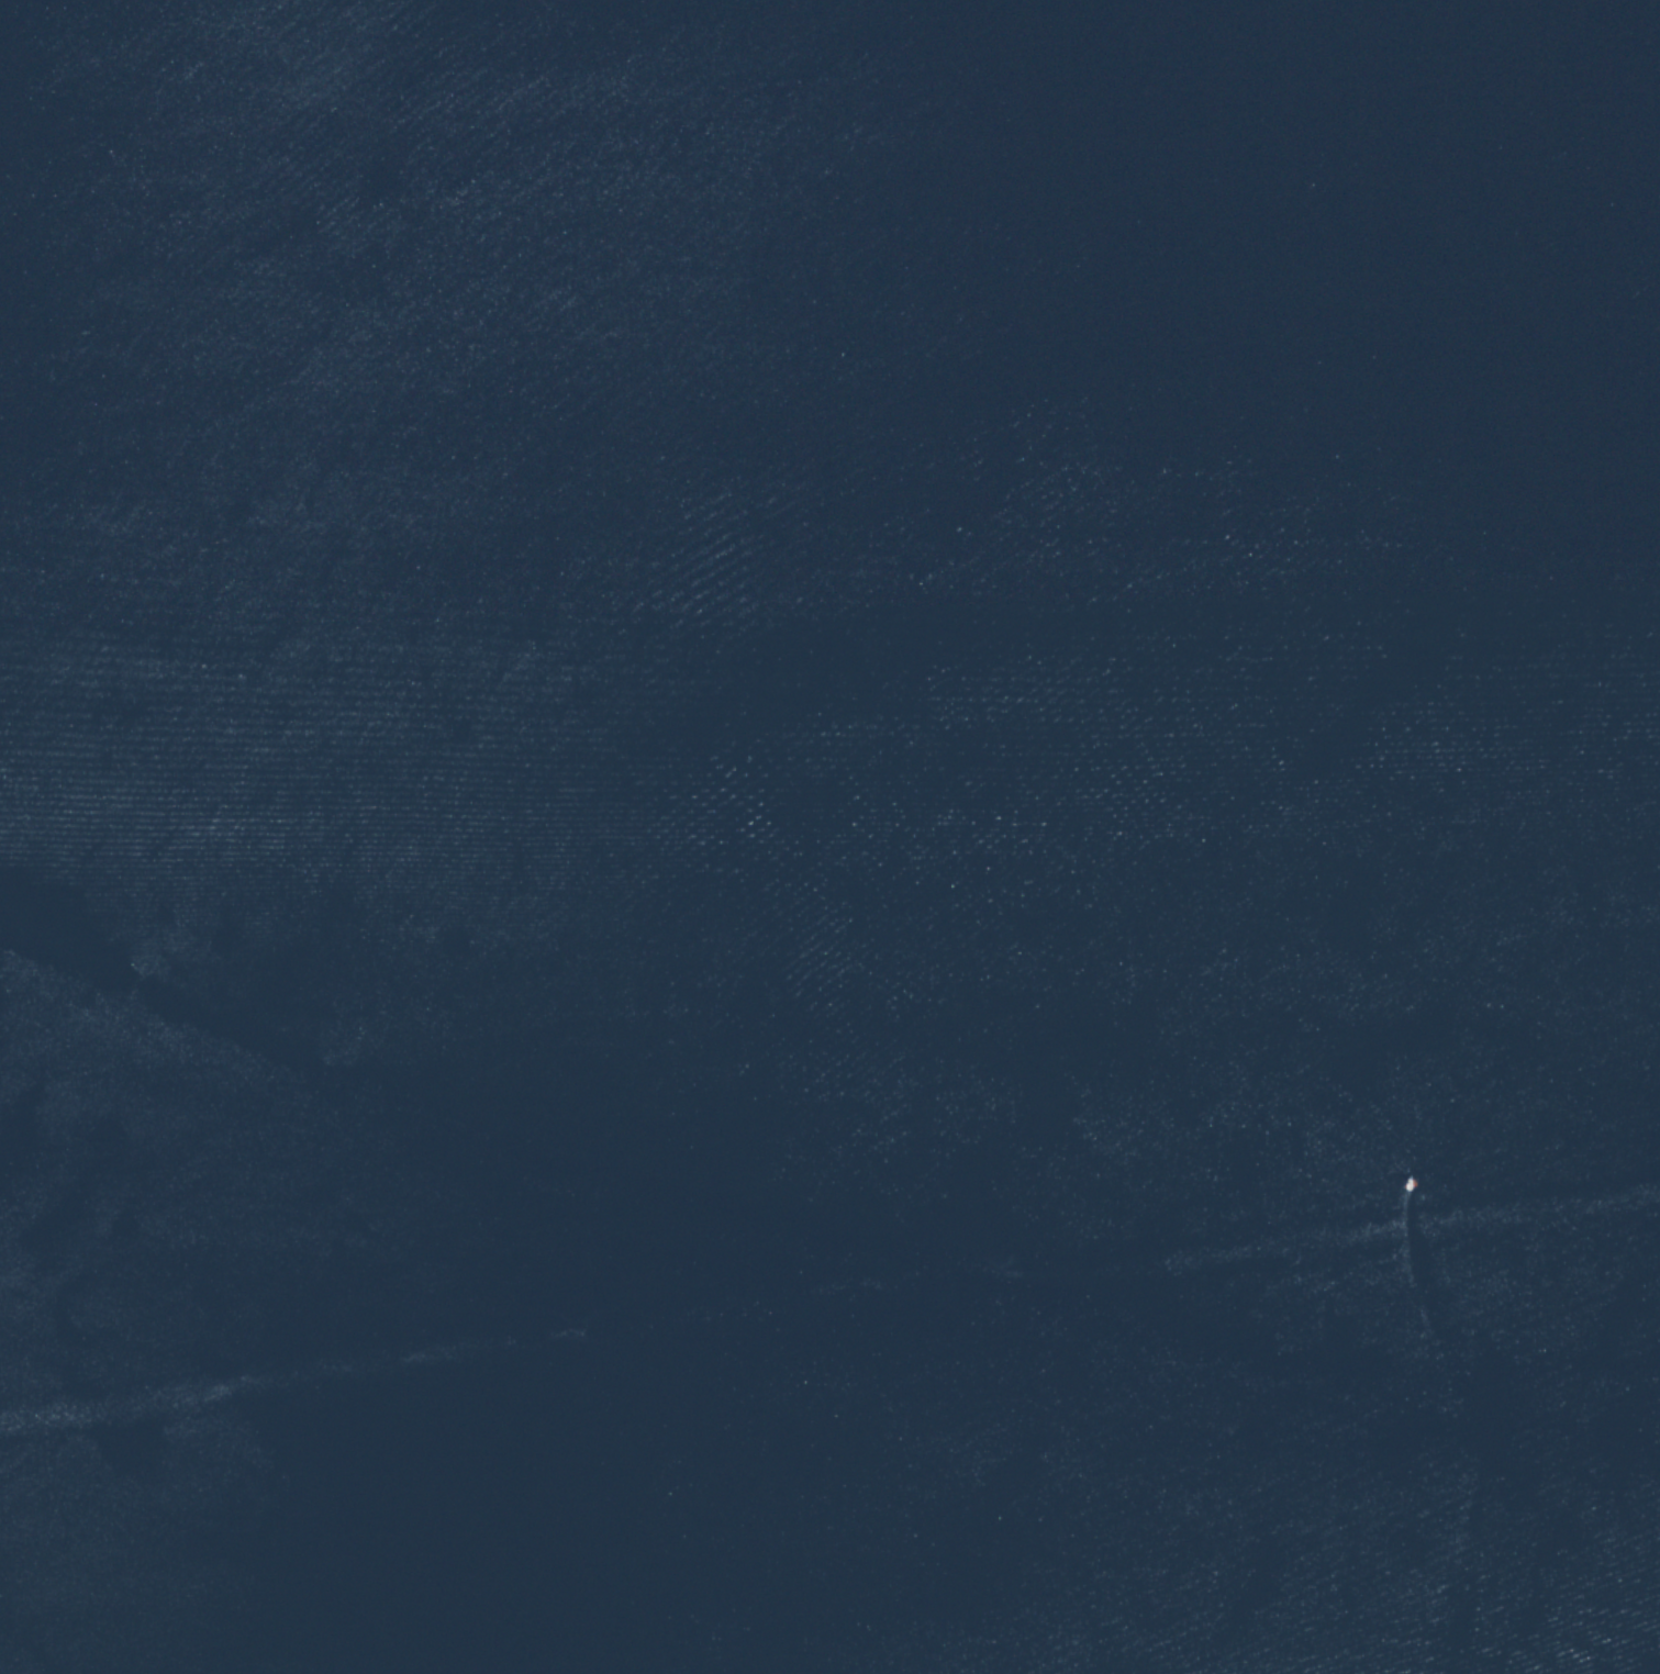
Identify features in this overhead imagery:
river: (1149, 1654)

